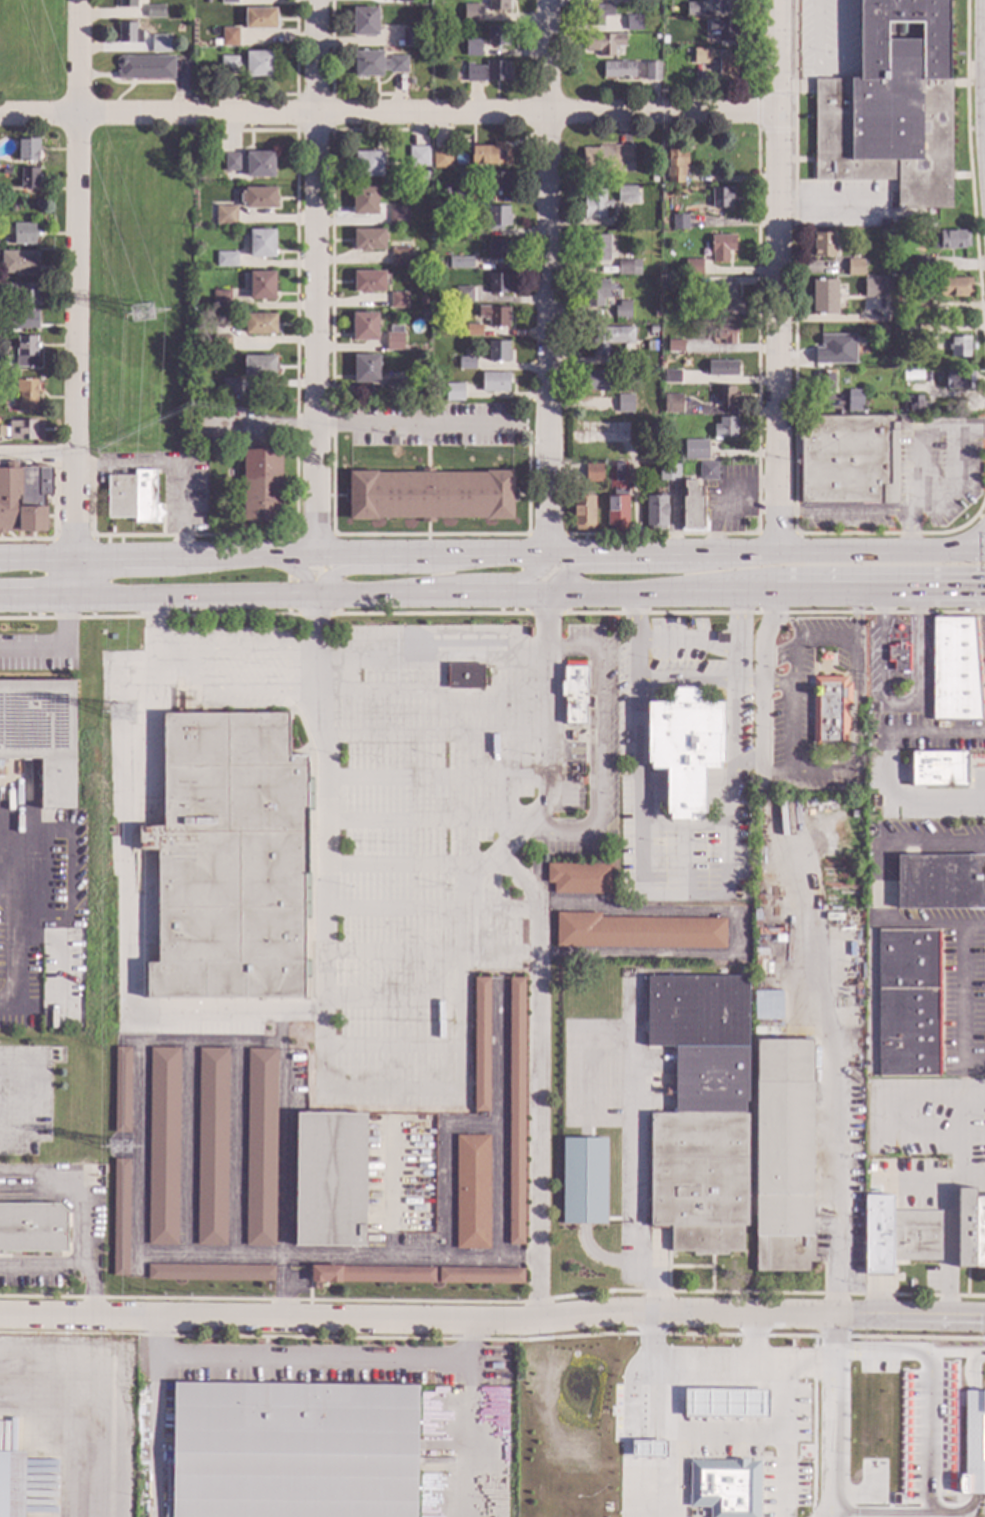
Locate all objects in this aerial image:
building: (206, 1)
building: (405, 1)
building: (627, 1)
building: (228, 2)
building: (126, 3)
building: (497, 5)
building: (725, 5)
building: (693, 9)
building: (154, 12)
building: (472, 13)
building: (597, 14)
building: (259, 19)
building: (364, 21)
building: (634, 24)
building: (656, 27)
building: (722, 29)
building: (424, 33)
building: (128, 34)
building: (497, 36)
building: (229, 37)
building: (410, 37)
building: (656, 37)
building: (160, 43)
building: (603, 43)
building: (472, 47)
building: (718, 64)
building: (249, 65)
building: (376, 65)
road: (827, 65)
building: (145, 67)
building: (621, 70)
building: (652, 71)
building: (488, 72)
building: (409, 82)
building: (890, 107)
road: (388, 115)
building: (28, 150)
building: (490, 155)
building: (419, 157)
building: (442, 159)
building: (606, 159)
building: (232, 163)
building: (259, 165)
building: (368, 165)
building: (676, 165)
building: (6, 171)
building: (424, 177)
building: (29, 178)
building: (497, 183)
building: (446, 189)
building: (462, 193)
building: (625, 194)
building: (255, 198)
building: (721, 198)
building: (364, 201)
building: (595, 205)
building: (226, 215)
building: (398, 216)
building: (498, 217)
building: (679, 222)
building: (910, 222)
building: (463, 228)
building: (24, 234)
building: (368, 240)
building: (948, 240)
building: (261, 243)
building: (823, 245)
building: (598, 248)
building: (722, 248)
building: (498, 250)
building: (400, 257)
building: (226, 259)
building: (19, 262)
building: (460, 263)
building: (921, 264)
building: (437, 265)
building: (628, 267)
building: (693, 267)
building: (855, 268)
road: (775, 277)
road: (318, 278)
road: (549, 278)
road: (79, 280)
building: (368, 282)
building: (498, 283)
building: (901, 283)
building: (259, 285)
building: (875, 288)
building: (954, 288)
building: (688, 289)
building: (21, 292)
building: (597, 293)
building: (464, 294)
building: (824, 297)
building: (221, 300)
building: (726, 300)
building: (399, 301)
building: (622, 310)
building: (920, 310)
power tower: (144, 312)
building: (656, 313)
building: (494, 315)
building: (662, 315)
building: (18, 319)
building: (260, 324)
building: (364, 327)
building: (898, 327)
building: (911, 328)
building: (473, 331)
building: (653, 331)
building: (725, 334)
building: (610, 338)
building: (394, 339)
building: (828, 343)
building: (221, 344)
building: (674, 346)
building: (959, 347)
building: (498, 351)
building: (26, 352)
building: (850, 358)
building: (626, 360)
building: (839, 361)
building: (466, 364)
building: (259, 367)
building: (722, 368)
building: (365, 369)
building: (912, 375)
building: (671, 377)
building: (595, 381)
building: (959, 381)
building: (494, 382)
building: (825, 382)
building: (230, 386)
building: (393, 389)
building: (440, 392)
building: (453, 392)
building: (26, 395)
building: (728, 397)
building: (853, 401)
building: (625, 403)
building: (672, 404)
building: (913, 404)
road: (262, 428)
road: (418, 428)
building: (725, 428)
building: (25, 430)
building: (392, 442)
building: (695, 449)
road: (39, 453)
building: (214, 453)
building: (847, 458)
road: (176, 465)
building: (707, 471)
building: (667, 472)
building: (593, 473)
building: (262, 485)
building: (430, 495)
building: (617, 496)
building: (133, 497)
building: (24, 498)
building: (692, 509)
building: (582, 512)
building: (655, 513)
road: (980, 517)
road: (968, 543)
road: (966, 552)
road: (559, 556)
road: (125, 561)
road: (39, 562)
road: (654, 568)
road: (384, 569)
road: (300, 571)
road: (470, 579)
road: (78, 581)
road: (943, 592)
road: (664, 594)
road: (841, 594)
road: (351, 595)
road: (468, 595)
road: (196, 597)
road: (38, 600)
road: (857, 613)
building: (112, 637)
building: (721, 638)
road: (832, 640)
building: (467, 644)
road: (690, 645)
road: (53, 646)
road: (260, 649)
road: (149, 653)
building: (897, 657)
road: (797, 658)
road: (207, 668)
building: (954, 670)
building: (464, 676)
road: (690, 684)
road: (752, 684)
road: (261, 689)
road: (638, 691)
building: (574, 694)
road: (857, 699)
road: (433, 700)
road: (759, 705)
road: (899, 707)
building: (829, 712)
building: (37, 720)
power tower: (116, 724)
road: (794, 727)
road: (937, 732)
building: (684, 749)
road: (550, 750)
road: (597, 752)
building: (937, 769)
road: (804, 775)
road: (732, 782)
building: (850, 788)
road: (654, 790)
road: (684, 793)
building: (309, 795)
road: (903, 800)
building: (111, 830)
road: (937, 839)
building: (229, 860)
building: (579, 878)
building: (940, 882)
road: (680, 902)
road: (879, 921)
road: (18, 926)
road: (126, 929)
building: (638, 932)
road: (739, 935)
building: (624, 980)
road: (962, 994)
building: (908, 1003)
building: (767, 1005)
road: (323, 1014)
road: (829, 1031)
building: (481, 1045)
road: (140, 1065)
road: (537, 1076)
building: (121, 1090)
building: (515, 1110)
building: (700, 1113)
road: (499, 1123)
building: (163, 1146)
building: (211, 1147)
building: (261, 1147)
power tower: (120, 1148)
road: (187, 1151)
building: (783, 1156)
road: (450, 1169)
building: (330, 1179)
building: (583, 1181)
road: (392, 1190)
building: (471, 1191)
road: (86, 1207)
building: (120, 1217)
building: (32, 1228)
building: (970, 1230)
building: (898, 1235)
road: (383, 1260)
road: (44, 1266)
road: (839, 1267)
building: (210, 1273)
building: (372, 1274)
building: (481, 1276)
road: (878, 1297)
road: (492, 1316)
traffic signals: (978, 1320)
road: (838, 1335)
road: (754, 1337)
road: (961, 1350)
road: (801, 1355)
road: (315, 1361)
building: (725, 1402)
road: (155, 1414)
road: (673, 1415)
road: (472, 1416)
road: (71, 1421)
gas station: (710, 1428)
road: (730, 1429)
road: (833, 1434)
road: (787, 1437)
building: (973, 1444)
building: (648, 1449)
building: (293, 1450)
road: (938, 1480)
building: (11, 1484)
building: (724, 1487)

